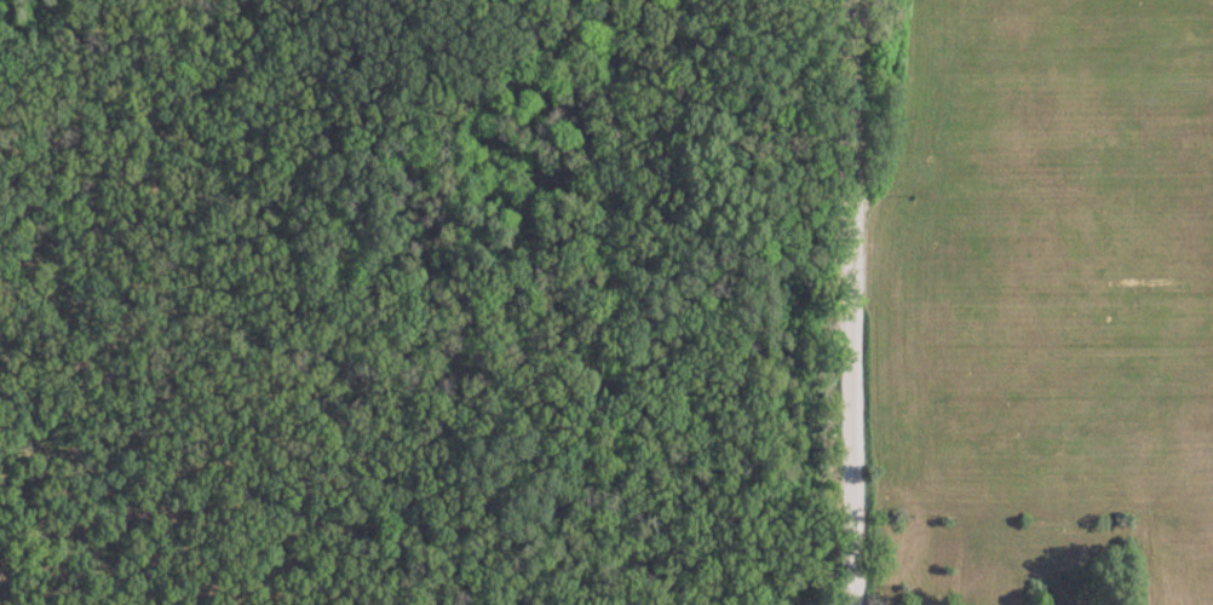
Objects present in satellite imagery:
road: (835, 302)

